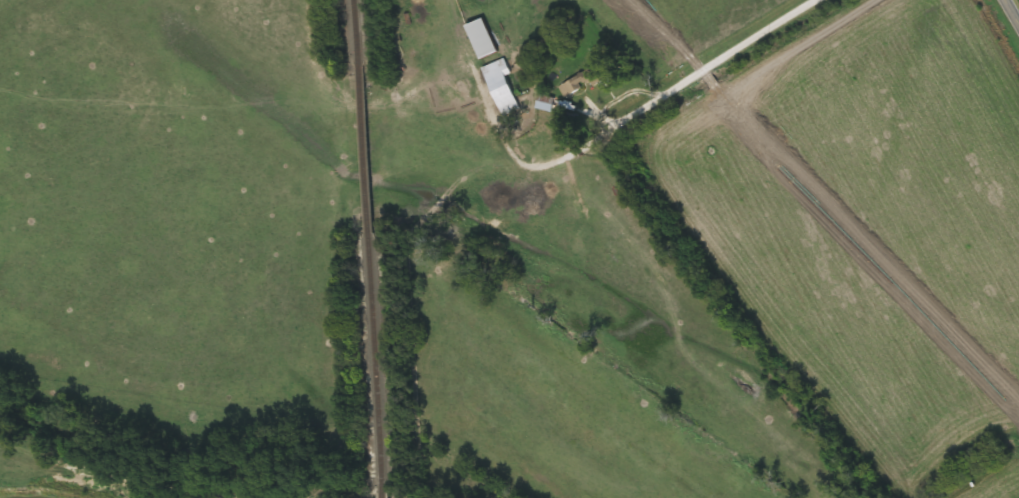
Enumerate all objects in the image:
road: (1011, 13)
railway: (356, 29)
building: (483, 39)
road: (680, 60)
building: (501, 85)
building: (545, 103)
railway: (365, 149)
railway: (379, 363)
railway: (388, 493)

